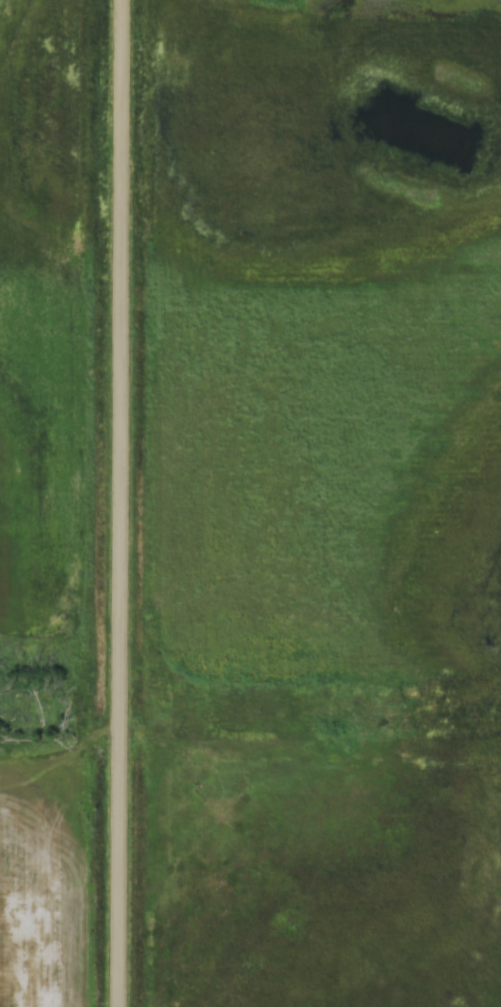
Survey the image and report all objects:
road: (110, 503)

